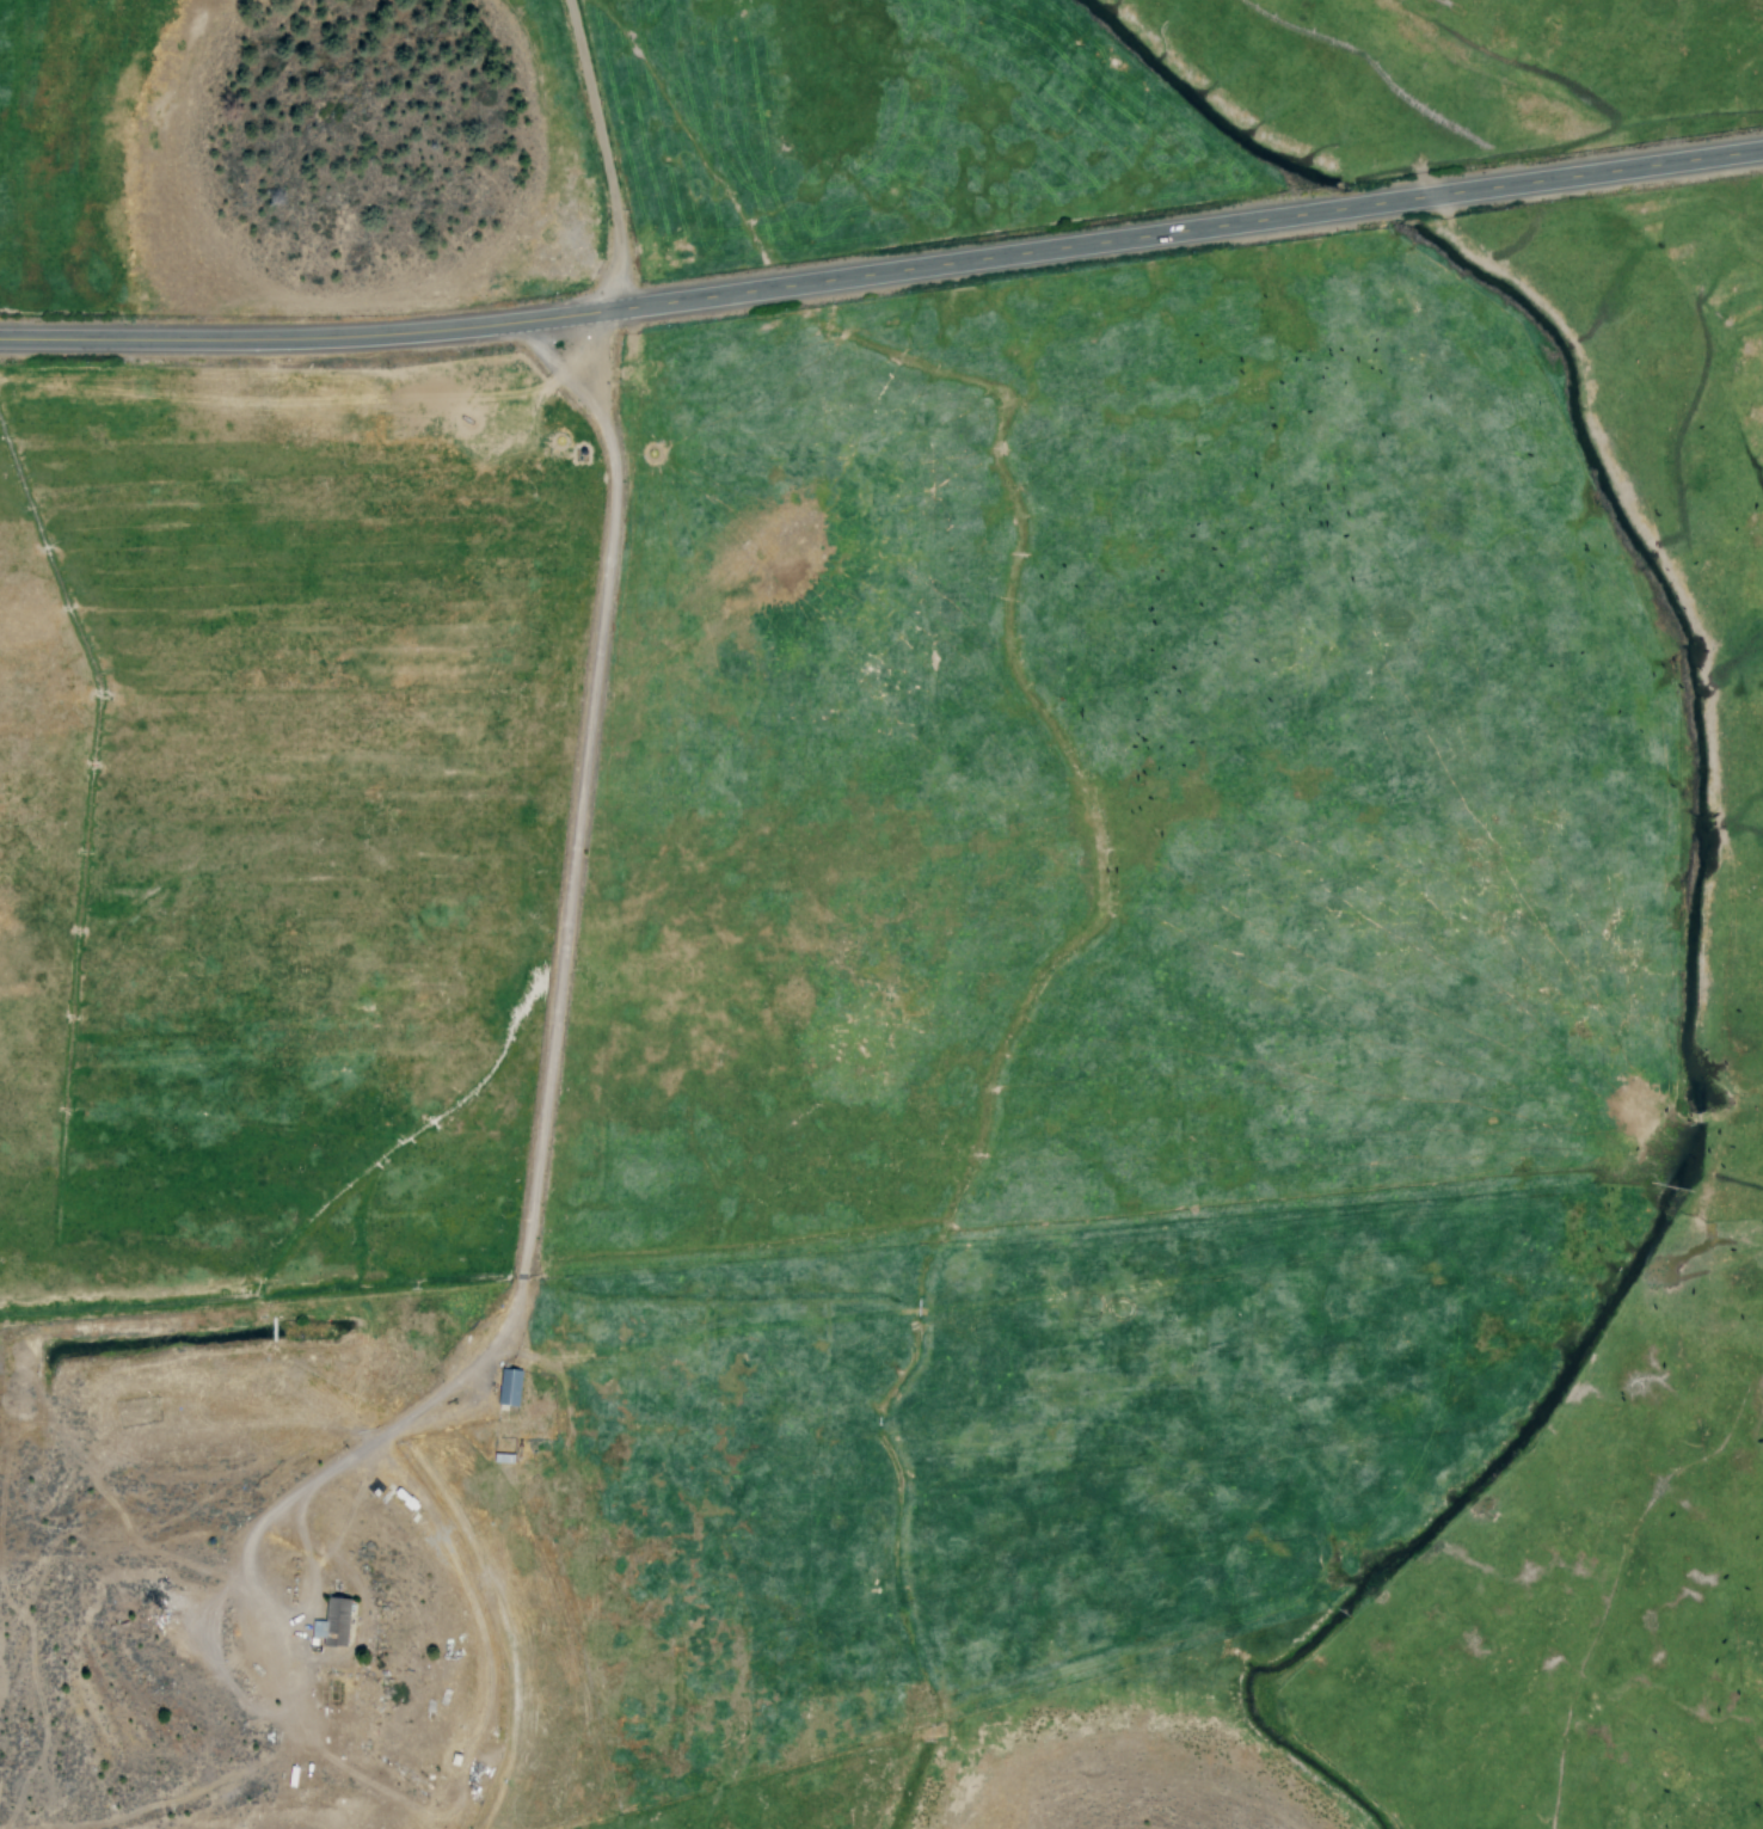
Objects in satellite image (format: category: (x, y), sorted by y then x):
road: (602, 152)
road: (883, 269)
road: (563, 949)
building: (508, 1386)
building: (333, 1621)

